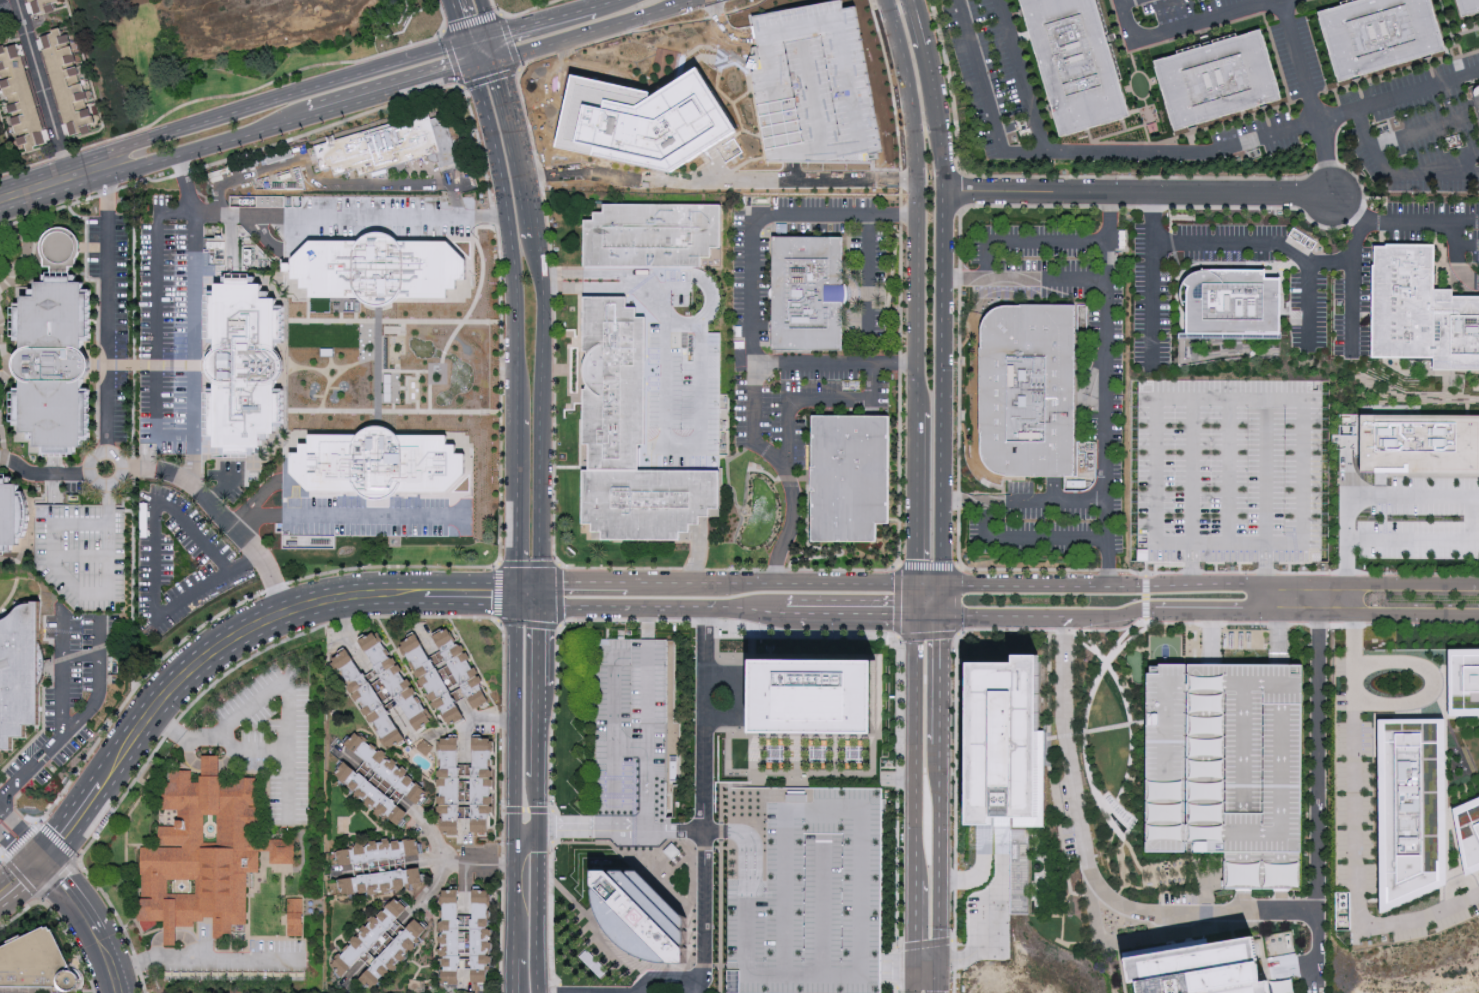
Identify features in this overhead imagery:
road: (602, 2)
road: (1129, 2)
building: (1467, 5)
building: (44, 6)
road: (661, 8)
parking lot: (1179, 8)
road: (482, 18)
road: (541, 20)
road: (457, 21)
road: (1179, 27)
building: (1377, 33)
traffic signals: (488, 36)
road: (564, 38)
road: (642, 38)
road: (476, 39)
traffic signals: (465, 43)
road: (491, 48)
road: (468, 54)
traffic signals: (494, 60)
parking lot: (1297, 60)
road: (483, 62)
building: (1075, 63)
traffic signals: (472, 65)
parking lot: (991, 71)
road: (1019, 77)
building: (1216, 80)
building: (69, 83)
road: (44, 87)
road: (391, 90)
parking lot: (586, 93)
road: (810, 93)
road: (288, 97)
building: (21, 99)
parking lot: (773, 102)
road: (741, 105)
road: (777, 105)
building: (668, 116)
parking lot: (1416, 131)
parking lot: (1265, 134)
road: (1417, 134)
road: (211, 146)
building: (397, 148)
road: (1165, 155)
road: (1326, 155)
road: (1443, 167)
parking lot: (255, 174)
road: (57, 178)
road: (1396, 178)
road: (334, 182)
road: (1135, 193)
road: (914, 202)
road: (203, 214)
road: (509, 219)
road: (1461, 222)
parking lot: (1435, 226)
building: (650, 234)
road: (1027, 243)
road: (1466, 249)
road: (1457, 257)
road: (1329, 264)
building: (378, 268)
road: (870, 277)
road: (1024, 280)
parking lot: (868, 288)
building: (809, 294)
road: (755, 295)
road: (654, 299)
parking lot: (1357, 302)
parking lot: (1149, 303)
building: (1233, 305)
road: (107, 308)
building: (1419, 311)
parking lot: (111, 321)
road: (195, 321)
road: (542, 323)
parking lot: (172, 327)
road: (1270, 357)
road: (1353, 359)
building: (51, 367)
building: (250, 367)
parking lot: (1109, 375)
building: (1026, 389)
road: (1106, 389)
parking lot: (685, 390)
road: (1228, 398)
parking lot: (801, 401)
road: (819, 403)
building: (628, 436)
building: (1419, 444)
road: (677, 445)
road: (5, 459)
road: (120, 466)
building: (380, 467)
road: (786, 468)
road: (1191, 471)
road: (1227, 471)
building: (1228, 471)
parking garage: (1228, 471)
road: (1265, 471)
road: (48, 474)
building: (853, 477)
road: (516, 486)
road: (913, 495)
road: (941, 495)
road: (1023, 502)
building: (13, 516)
road: (221, 516)
parking lot: (376, 517)
road: (1470, 517)
road: (346, 518)
road: (154, 537)
road: (1026, 540)
road: (1227, 544)
building: (82, 553)
parking garage: (82, 553)
road: (81, 556)
parking lot: (179, 563)
road: (582, 580)
road: (769, 580)
road: (936, 583)
road: (1219, 587)
traffic signals: (539, 593)
road: (528, 594)
road: (82, 595)
traffic signals: (517, 595)
road: (911, 596)
road: (619, 608)
road: (745, 609)
road: (849, 609)
road: (936, 610)
road: (1219, 611)
road: (64, 637)
road: (98, 638)
road: (205, 655)
road: (87, 656)
building: (460, 668)
building: (21, 673)
building: (397, 682)
building: (432, 682)
road: (1432, 682)
building: (1462, 683)
parking lot: (70, 692)
road: (646, 696)
building: (814, 696)
road: (288, 701)
building: (367, 701)
road: (615, 703)
road: (539, 710)
road: (513, 711)
road: (493, 720)
parking lot: (272, 738)
road: (911, 743)
building: (1003, 743)
building: (631, 744)
parking garage: (631, 744)
building: (425, 746)
road: (209, 764)
building: (1226, 767)
parking lot: (1226, 767)
road: (31, 768)
building: (385, 769)
road: (646, 772)
road: (614, 774)
road: (287, 781)
building: (479, 785)
building: (449, 786)
building: (371, 794)
building: (1409, 810)
road: (704, 822)
fountain: (1118, 824)
road: (526, 828)
road: (593, 828)
road: (675, 830)
road: (1357, 831)
building: (1468, 835)
road: (22, 844)
building: (377, 852)
building: (208, 855)
road: (476, 863)
traffic signals: (44, 867)
road: (978, 871)
building: (380, 880)
building: (803, 890)
parking lot: (803, 890)
road: (513, 893)
building: (635, 906)
road: (539, 910)
road: (1227, 913)
building: (298, 916)
road: (989, 917)
road: (911, 918)
road: (88, 926)
parking lot: (988, 928)
building: (478, 934)
building: (368, 935)
building: (448, 936)
road: (1316, 946)
building: (393, 949)
road: (204, 956)
road: (896, 959)
building: (41, 965)
road: (1293, 965)
building: (1197, 969)
road: (515, 975)
road: (911, 975)

